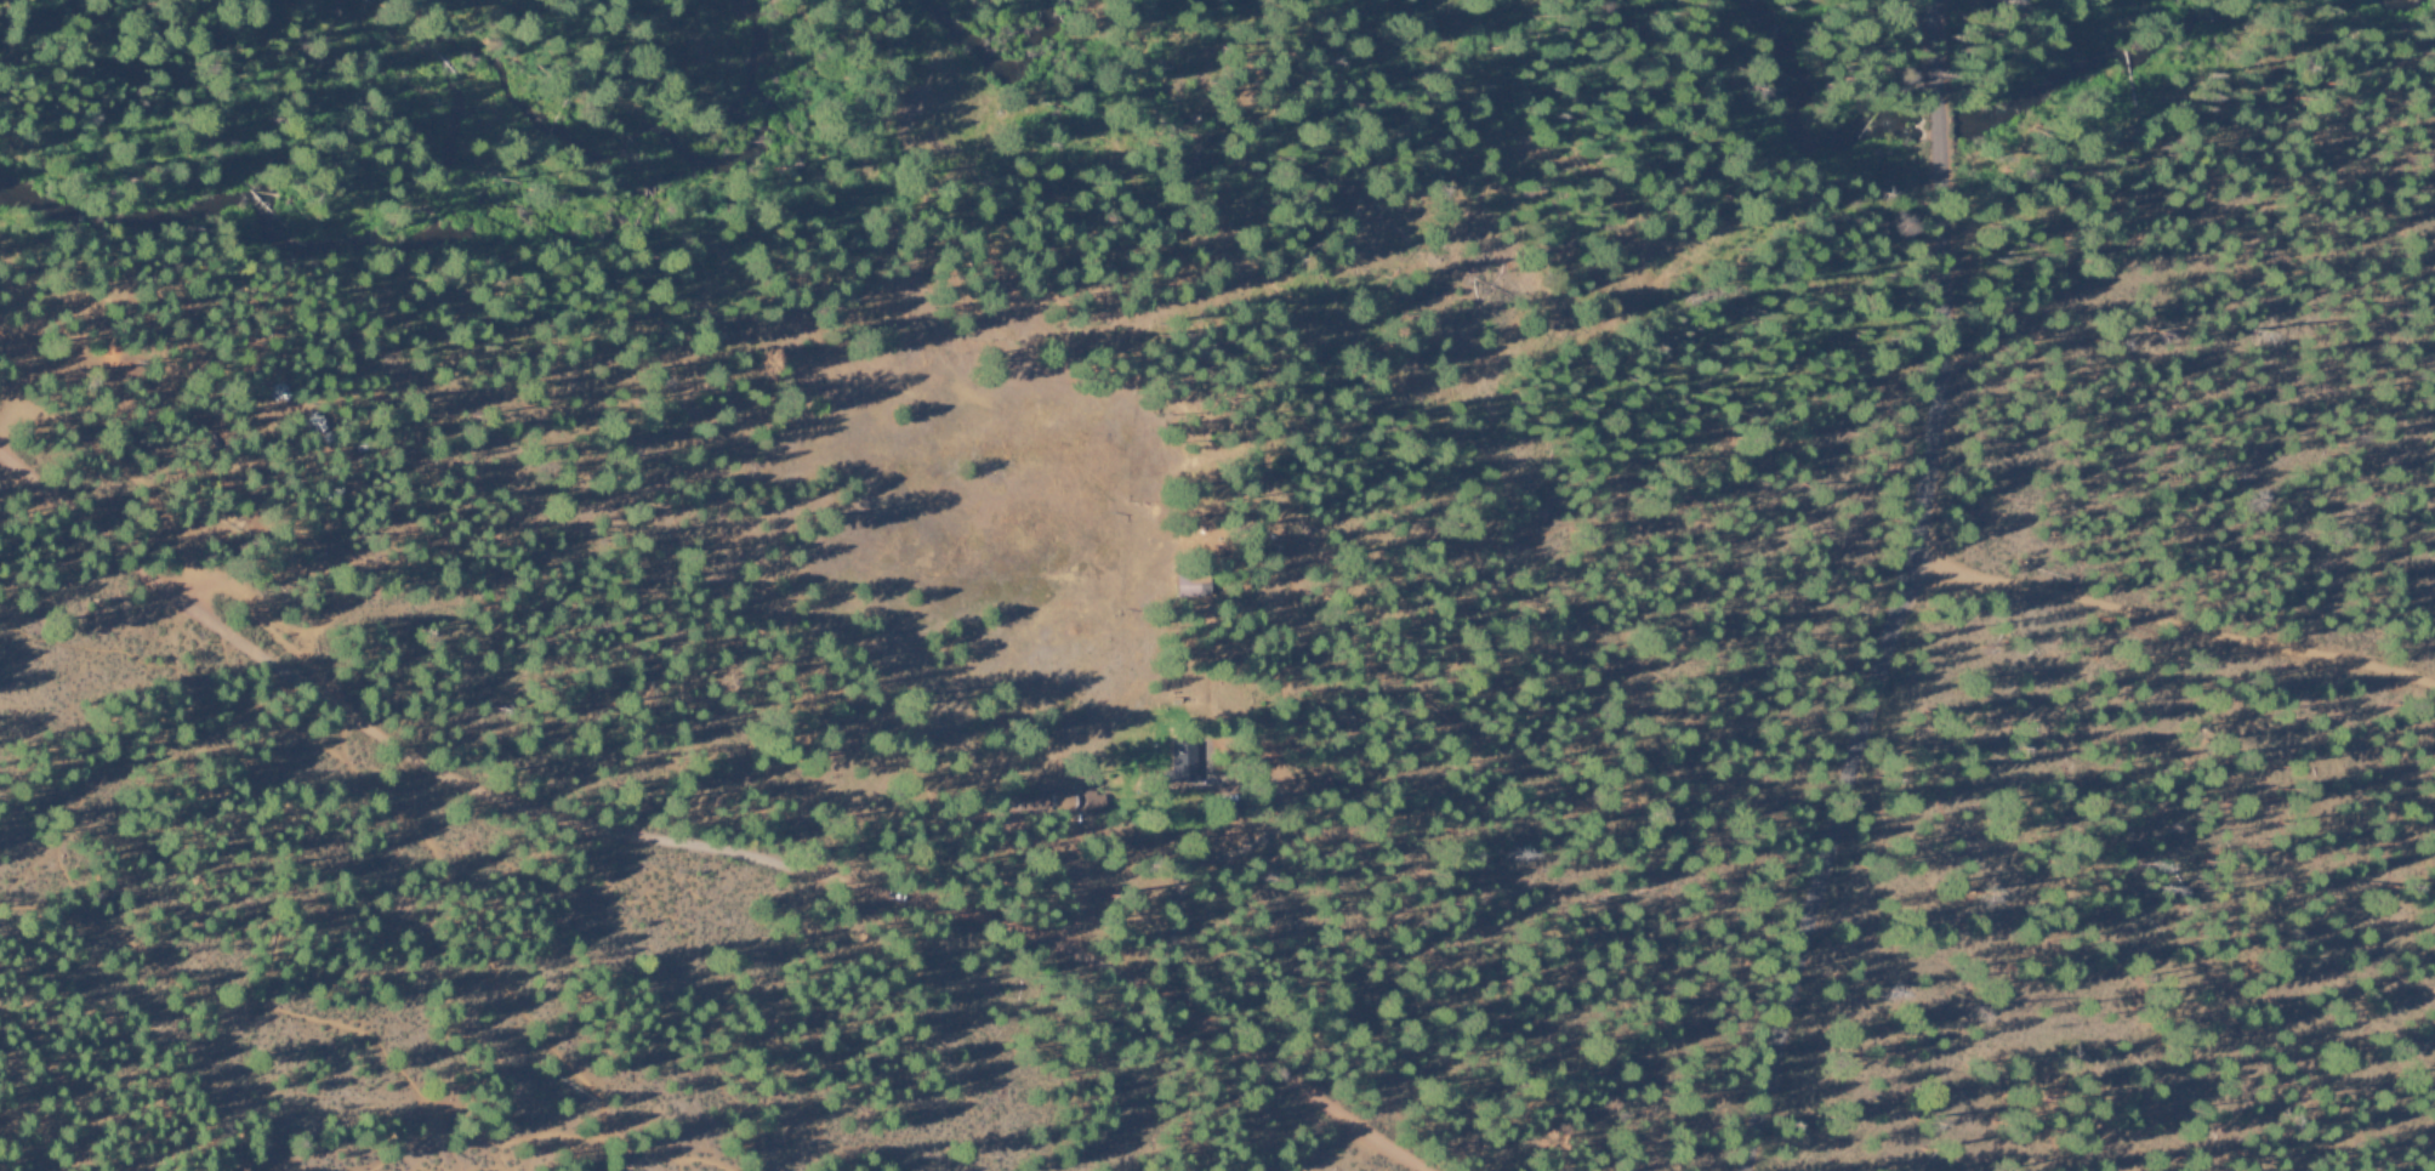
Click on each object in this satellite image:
road: (1910, 595)
road: (2173, 635)
road: (695, 843)
road: (357, 1031)

